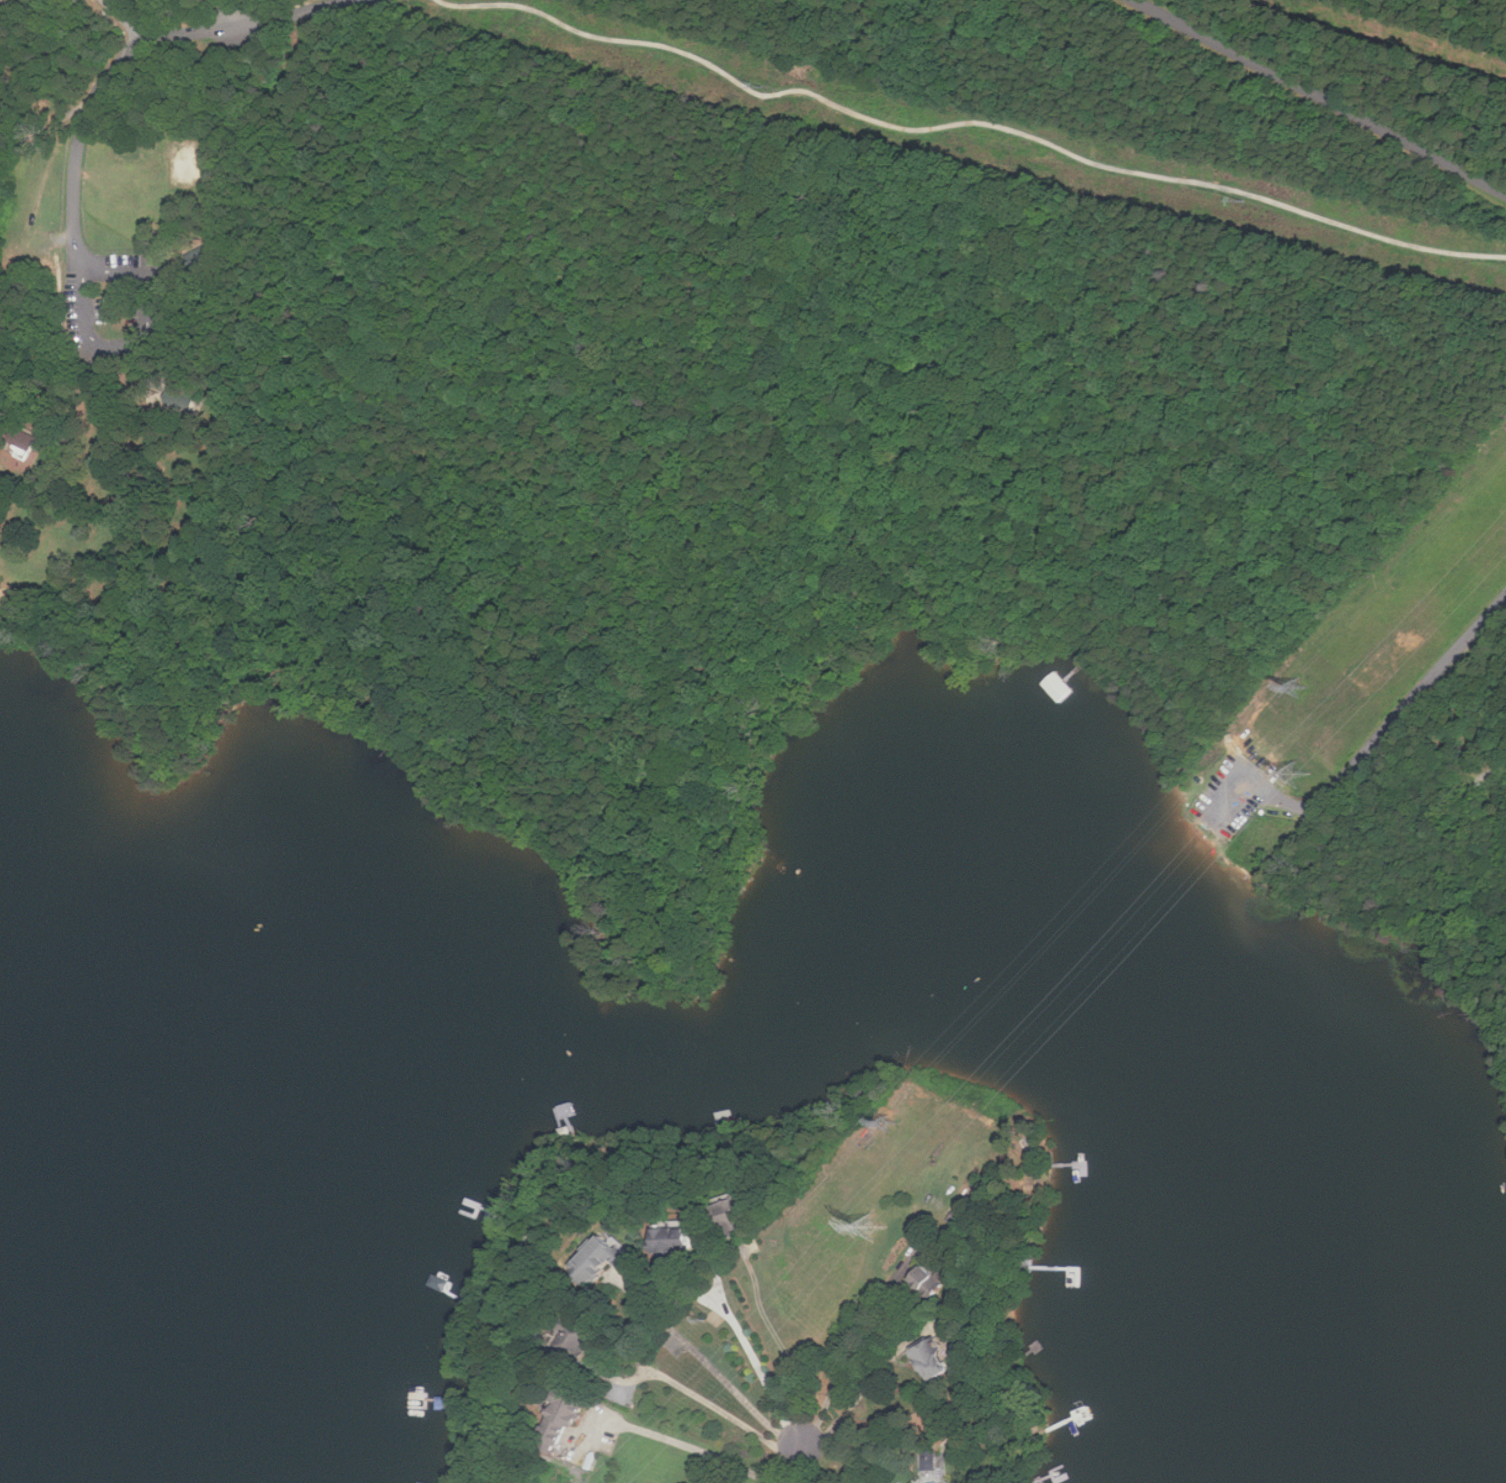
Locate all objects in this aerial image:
road: (230, 10)
road: (245, 18)
road: (127, 19)
road: (1323, 100)
road: (971, 126)
road: (81, 135)
park: (186, 162)
road: (209, 164)
road: (88, 300)
parking lot: (119, 302)
road: (149, 304)
road: (69, 376)
road: (21, 411)
building: (21, 439)
building: (25, 448)
road: (995, 582)
road: (941, 595)
road: (1441, 667)
power tower: (1302, 688)
road: (1494, 710)
road: (139, 722)
power tower: (1296, 774)
parking lot: (1233, 793)
road: (1309, 804)
road: (701, 816)
road: (739, 869)
power tower: (893, 1118)
building: (743, 1209)
power tower: (875, 1223)
building: (612, 1262)
building: (932, 1280)
road: (845, 1343)
road: (781, 1347)
building: (935, 1360)
road: (715, 1366)
road: (761, 1366)
road: (667, 1379)
road: (857, 1399)
building: (571, 1409)
road: (693, 1448)
building: (932, 1462)
road: (801, 1463)
building: (902, 1482)

